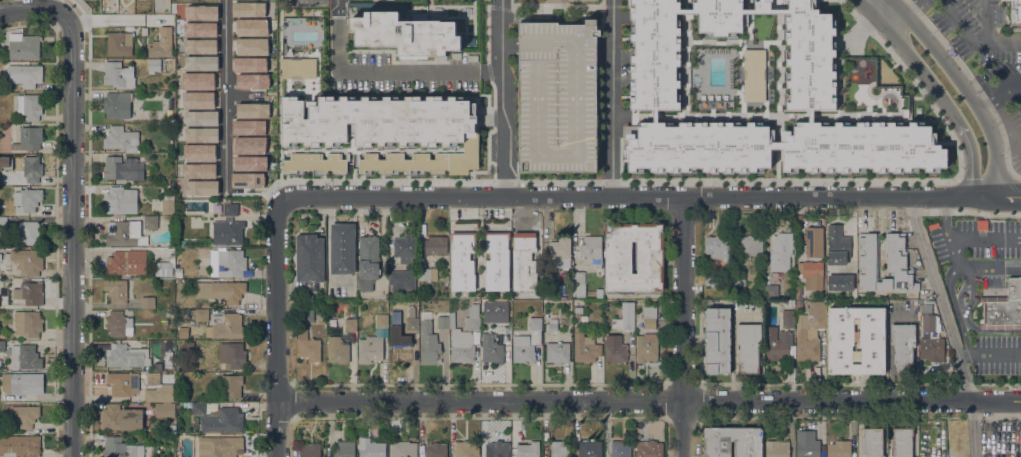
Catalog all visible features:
road: (868, 2)
road: (55, 5)
road: (35, 7)
road: (903, 12)
building: (1015, 13)
road: (117, 19)
road: (986, 21)
building: (143, 31)
building: (398, 33)
road: (973, 39)
building: (119, 44)
building: (23, 46)
building: (161, 46)
building: (154, 65)
road: (385, 72)
building: (25, 75)
building: (118, 75)
road: (934, 89)
road: (963, 89)
building: (752, 94)
road: (999, 95)
building: (557, 97)
road: (224, 98)
road: (614, 99)
road: (501, 100)
building: (117, 105)
building: (32, 107)
building: (170, 113)
building: (160, 118)
building: (375, 121)
building: (28, 139)
building: (121, 139)
building: (431, 161)
building: (314, 162)
building: (123, 169)
building: (31, 170)
building: (167, 181)
building: (101, 190)
road: (648, 197)
building: (27, 200)
building: (121, 201)
building: (168, 206)
building: (231, 210)
building: (161, 218)
building: (3, 222)
building: (170, 223)
building: (933, 225)
building: (982, 225)
road: (947, 230)
building: (130, 231)
building: (228, 232)
building: (26, 233)
road: (71, 237)
road: (985, 237)
building: (814, 242)
building: (435, 245)
building: (838, 245)
building: (750, 246)
building: (717, 247)
building: (405, 248)
building: (342, 249)
building: (591, 250)
building: (780, 252)
building: (559, 253)
building: (650, 258)
building: (28, 261)
building: (309, 261)
building: (462, 261)
building: (497, 261)
building: (126, 262)
building: (368, 262)
building: (524, 262)
building: (896, 262)
building: (232, 264)
road: (996, 268)
building: (163, 269)
building: (178, 273)
building: (427, 275)
building: (811, 275)
building: (711, 279)
building: (6, 280)
building: (401, 280)
building: (739, 280)
building: (578, 283)
building: (598, 283)
building: (840, 283)
road: (971, 285)
road: (950, 289)
building: (116, 290)
building: (230, 292)
building: (771, 292)
building: (798, 292)
building: (28, 293)
building: (599, 293)
building: (914, 295)
building: (148, 302)
building: (798, 303)
building: (506, 304)
building: (791, 304)
building: (1003, 308)
building: (577, 314)
building: (306, 315)
building: (201, 316)
building: (649, 316)
building: (625, 317)
building: (472, 318)
building: (381, 321)
building: (502, 321)
building: (637, 321)
building: (390, 323)
building: (930, 323)
building: (27, 324)
building: (118, 324)
building: (412, 324)
road: (949, 324)
building: (350, 325)
building: (551, 325)
building: (228, 326)
road: (682, 327)
road: (275, 328)
building: (809, 332)
building: (840, 332)
road: (965, 334)
building: (779, 338)
building: (457, 339)
building: (717, 340)
building: (527, 343)
building: (429, 344)
building: (188, 345)
building: (2, 346)
building: (308, 347)
building: (647, 347)
building: (585, 348)
building: (748, 348)
building: (902, 348)
building: (370, 349)
building: (401, 349)
building: (491, 349)
building: (615, 349)
building: (931, 350)
building: (337, 351)
building: (557, 352)
road: (989, 352)
building: (232, 355)
building: (124, 356)
building: (25, 357)
building: (168, 358)
building: (22, 383)
building: (123, 383)
building: (231, 385)
building: (157, 389)
road: (648, 400)
building: (146, 403)
building: (198, 408)
building: (164, 410)
building: (22, 417)
building: (121, 418)
building: (223, 420)
building: (170, 428)
building: (171, 437)
building: (872, 442)
building: (902, 442)
building: (807, 444)
building: (19, 446)
building: (219, 446)
building: (120, 448)
building: (370, 448)
building: (589, 448)
building: (404, 449)
building: (528, 449)
building: (559, 449)
building: (619, 449)
building: (649, 449)
building: (717, 449)
building: (776, 449)
building: (839, 449)
building: (309, 450)
building: (344, 450)
building: (436, 450)
building: (466, 450)
building: (495, 450)

